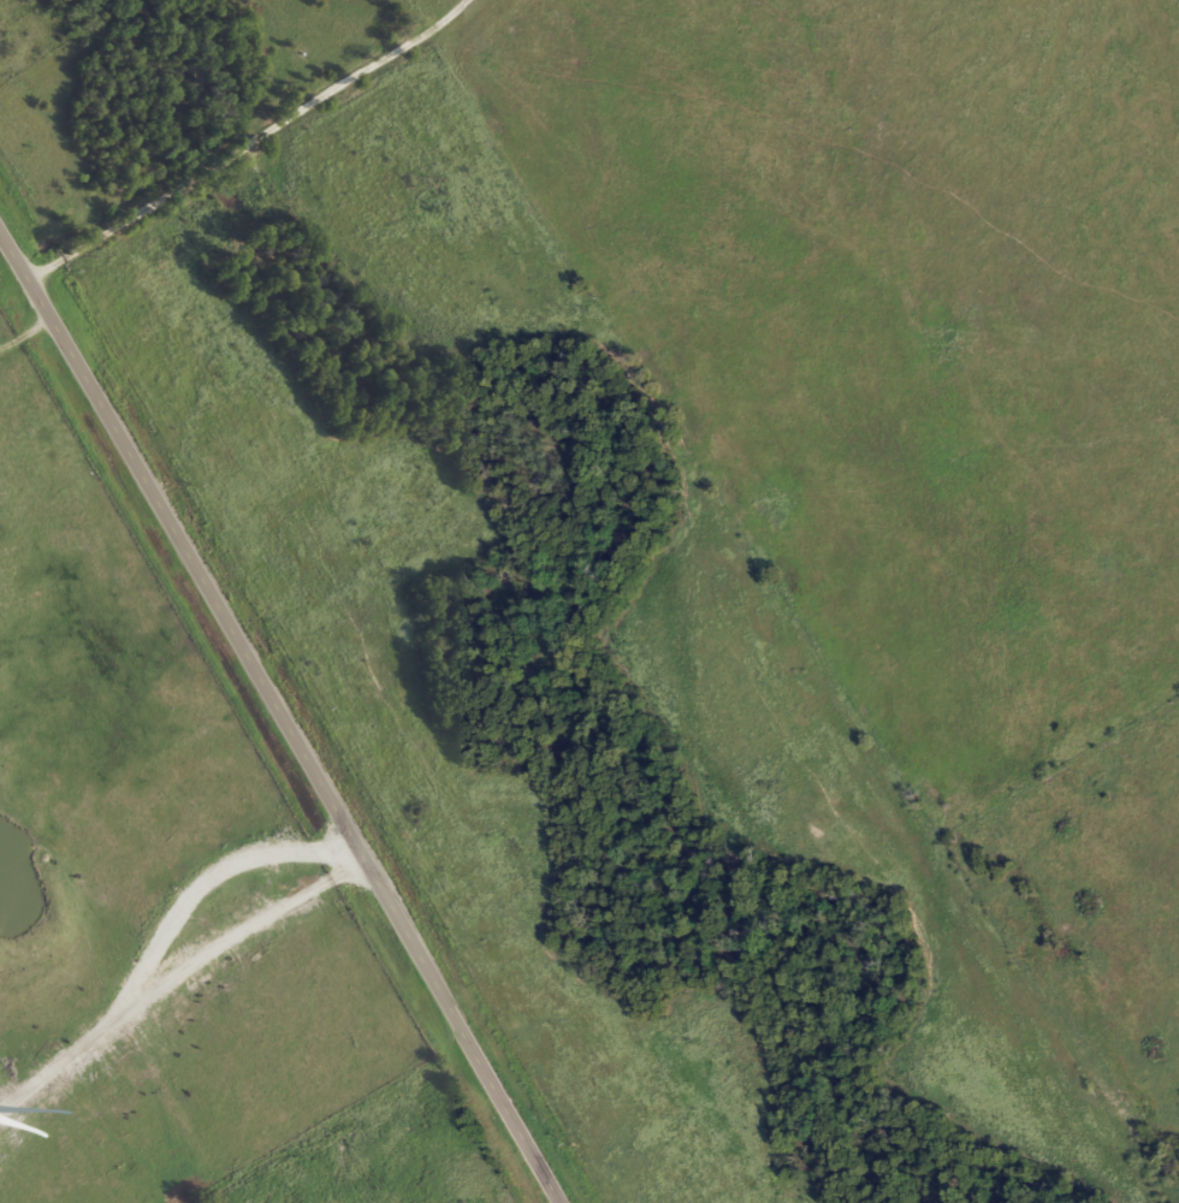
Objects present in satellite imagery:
road: (134, 259)
road: (279, 721)
road: (179, 984)

